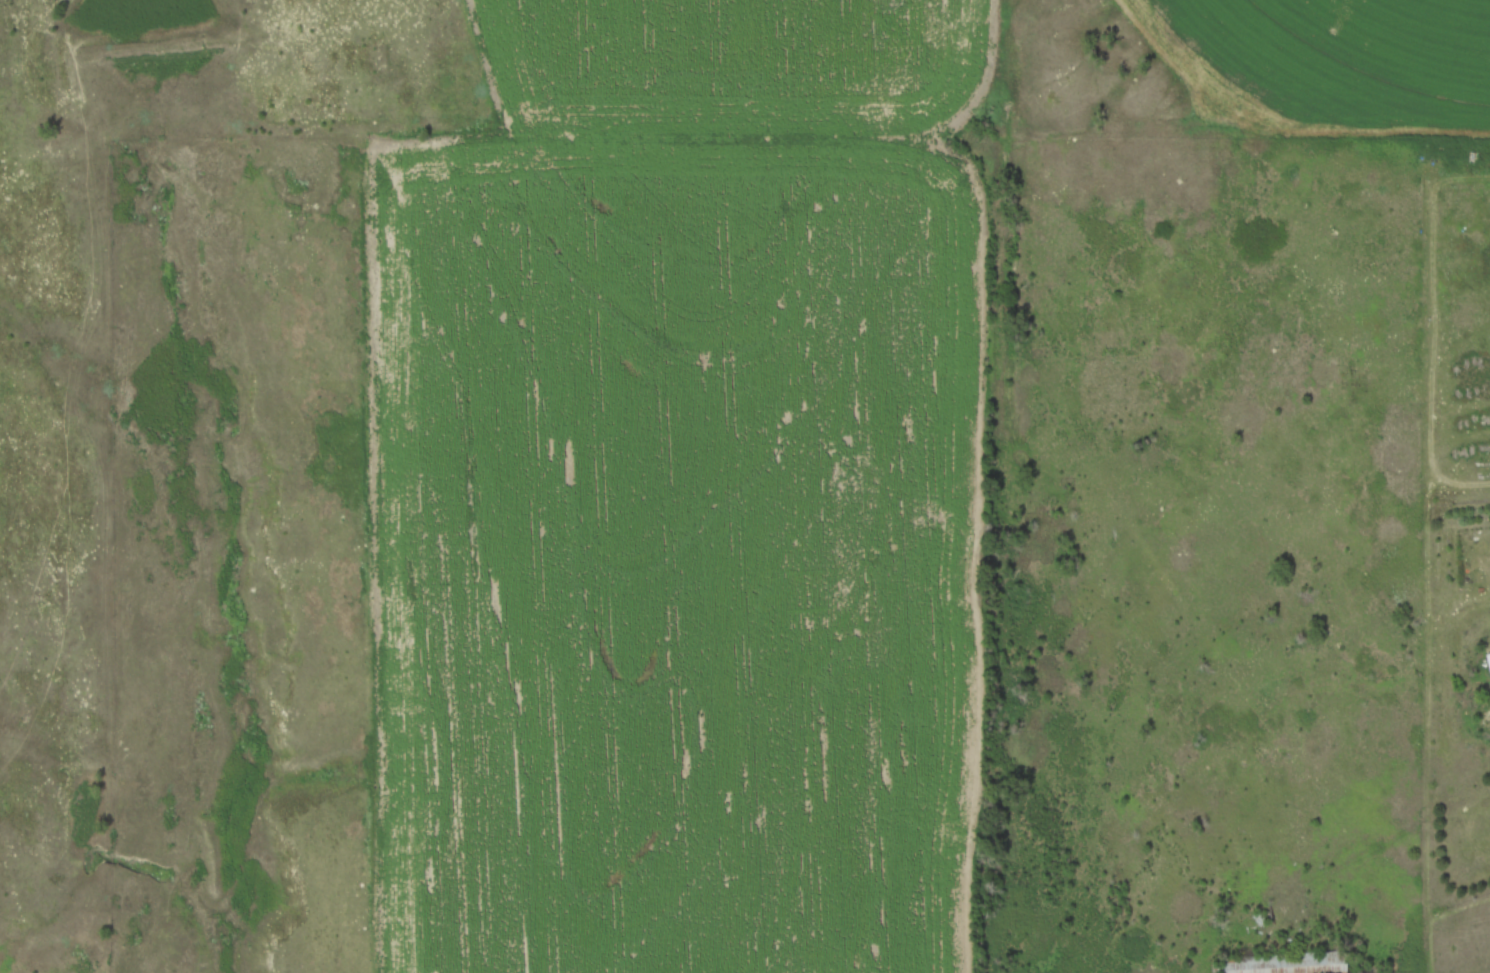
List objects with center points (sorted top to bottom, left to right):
building: (1488, 659)
building: (1286, 963)

